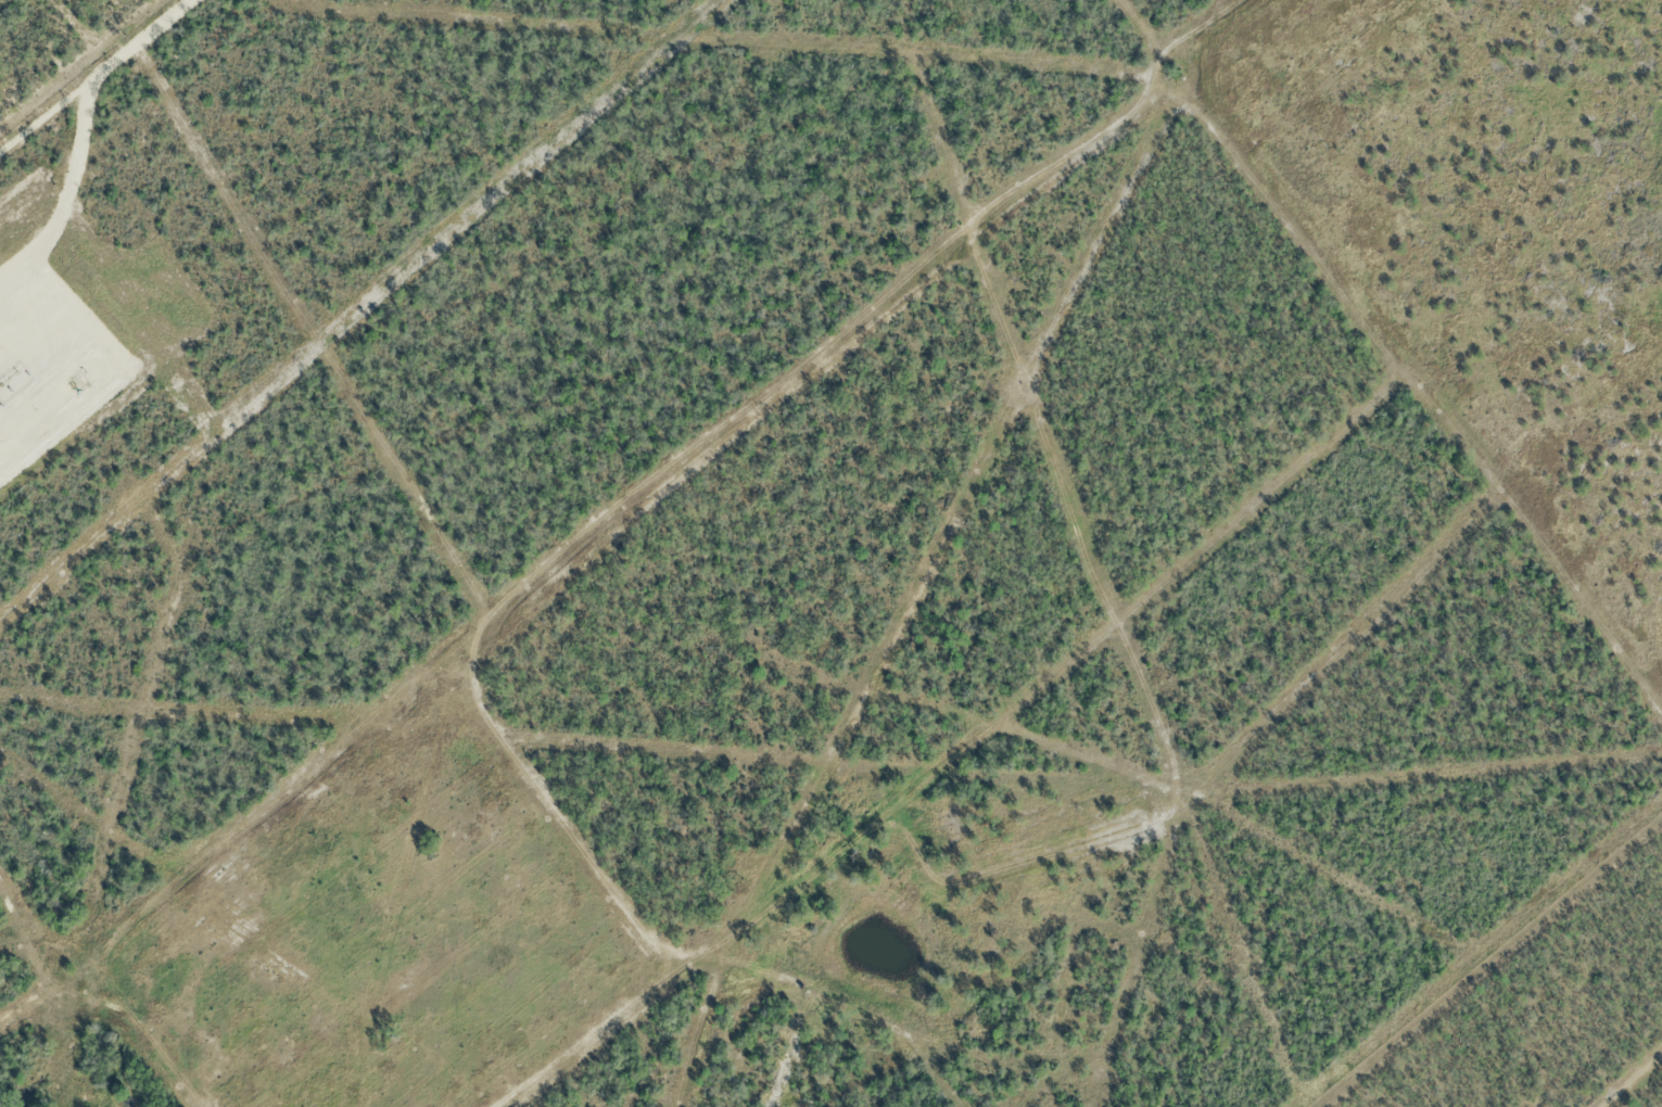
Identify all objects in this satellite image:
road: (94, 76)

